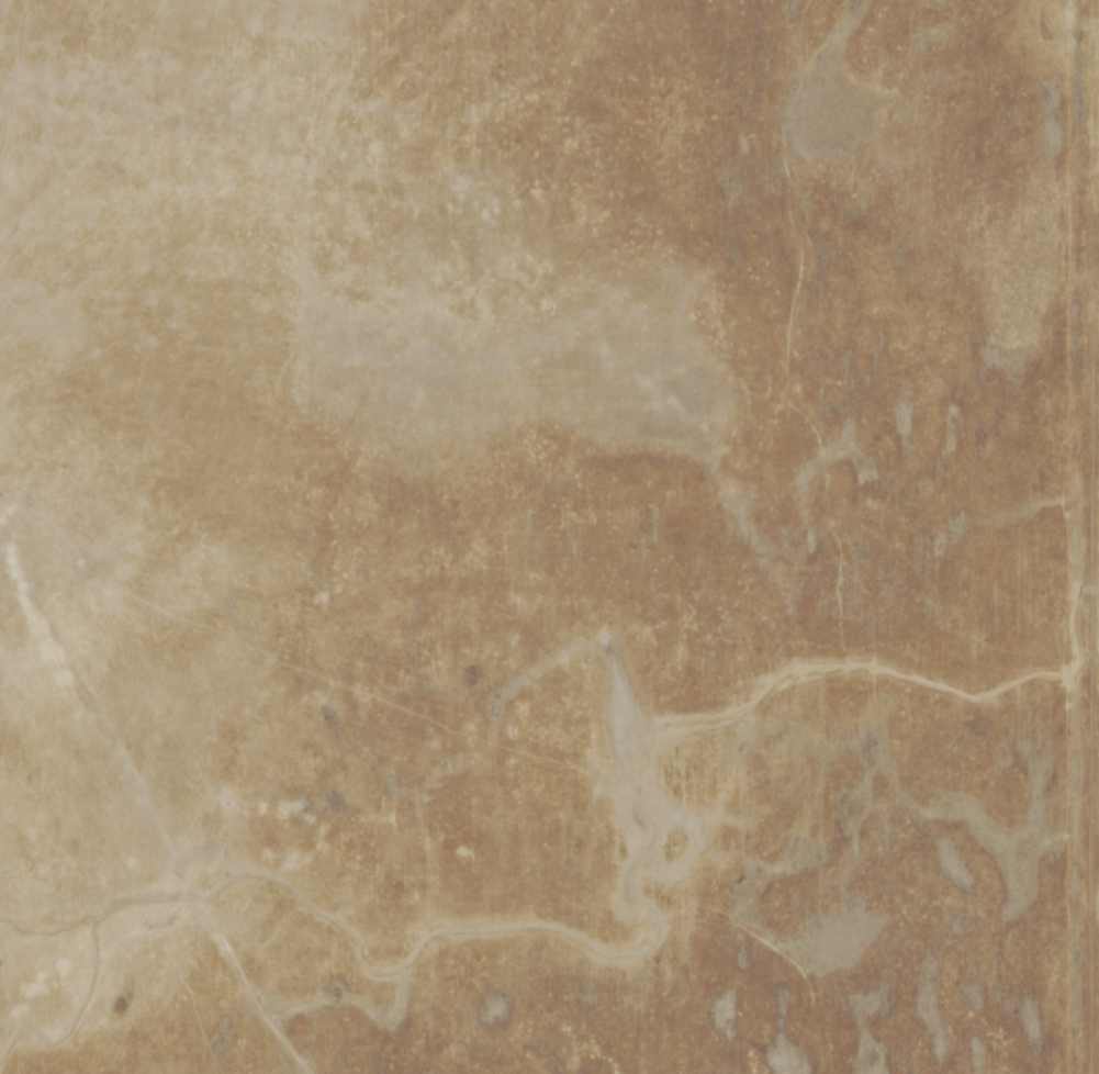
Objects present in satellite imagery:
railway: (1086, 537)

